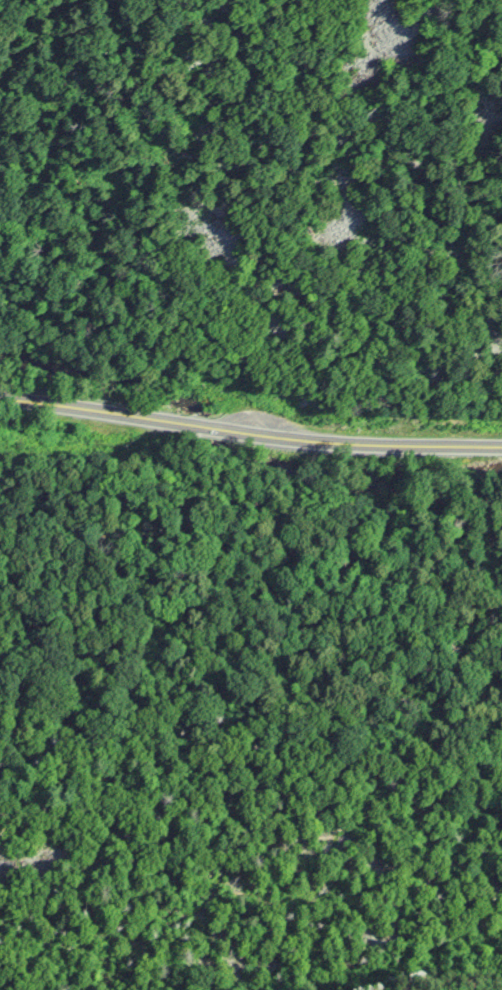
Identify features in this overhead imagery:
road: (250, 441)

